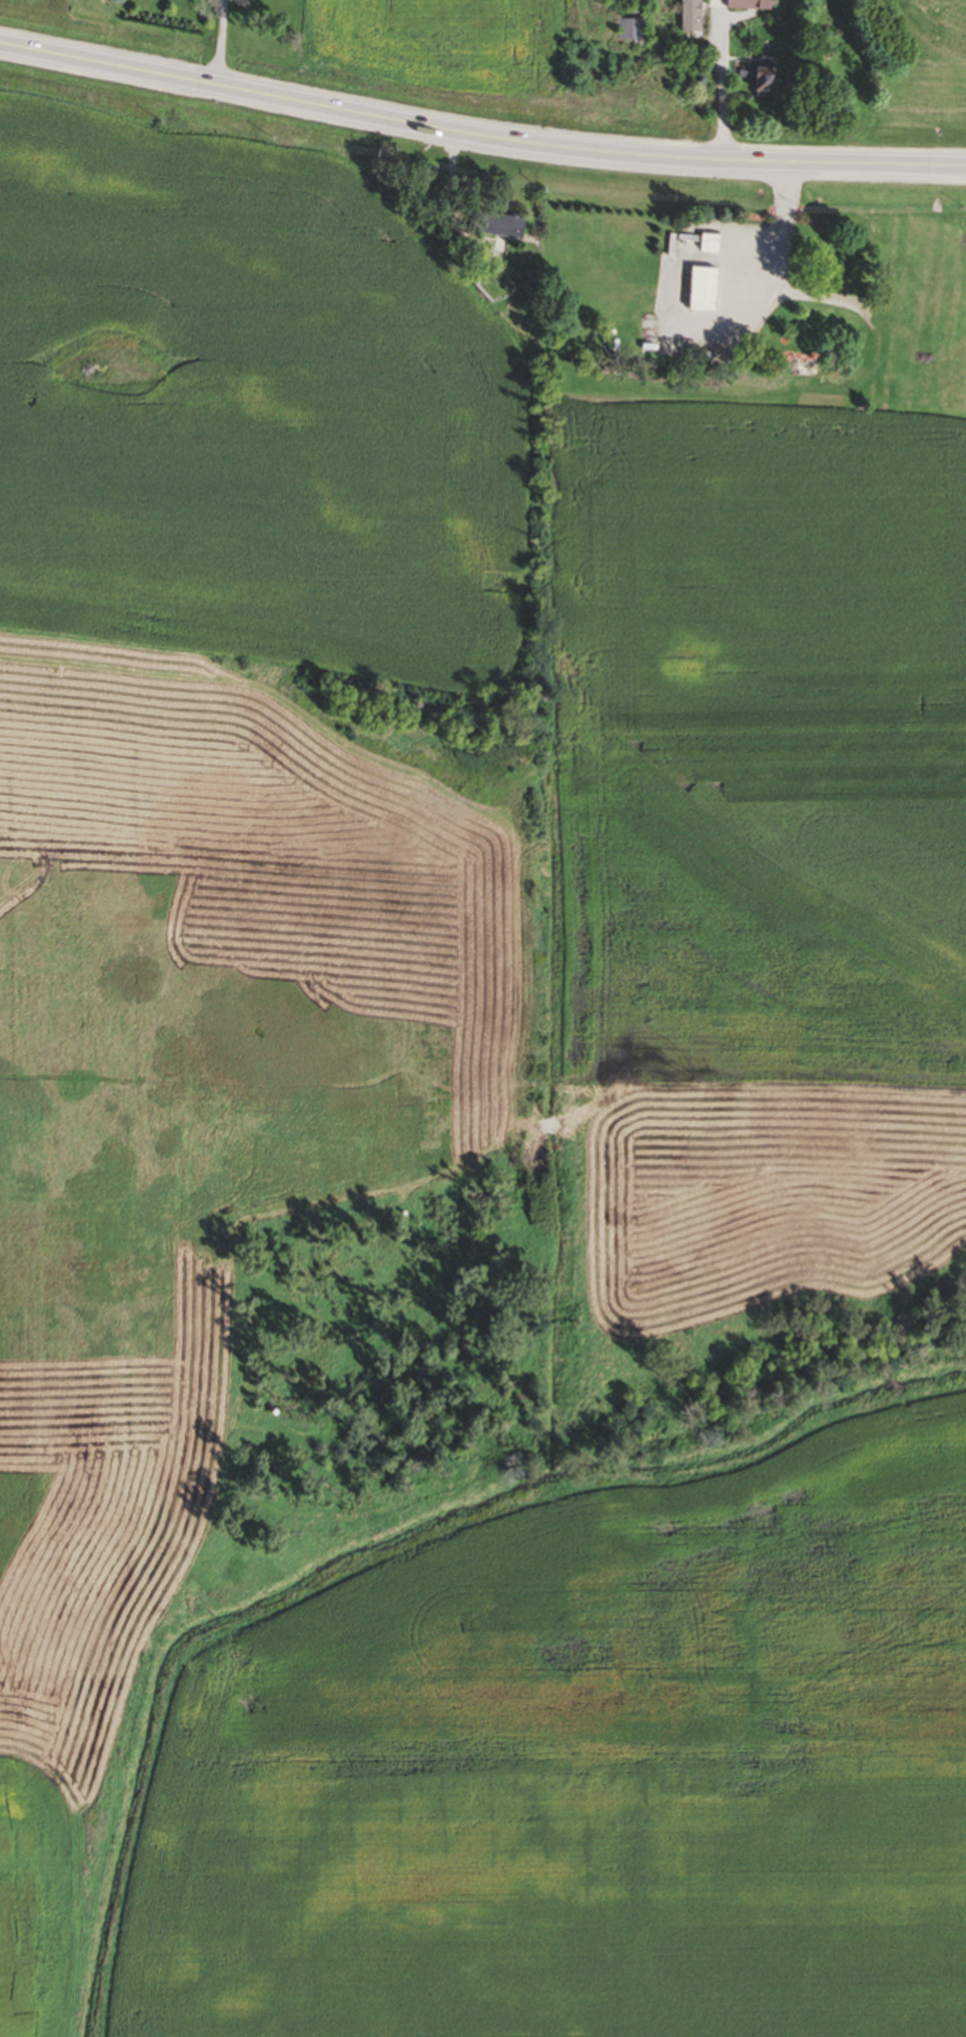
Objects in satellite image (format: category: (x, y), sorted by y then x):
building: (744, 6)
park: (88, 7)
building: (689, 17)
building: (627, 32)
road: (216, 43)
road: (714, 81)
building: (761, 85)
road: (479, 137)
building: (495, 228)
building: (705, 246)
building: (697, 293)

